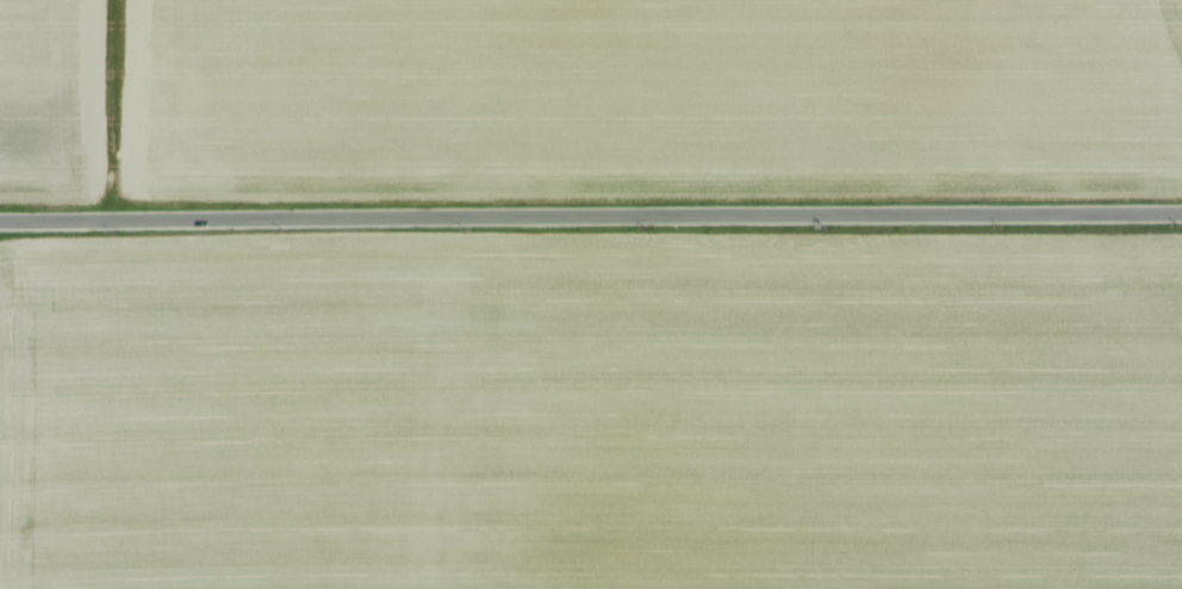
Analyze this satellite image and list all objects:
road: (590, 217)

